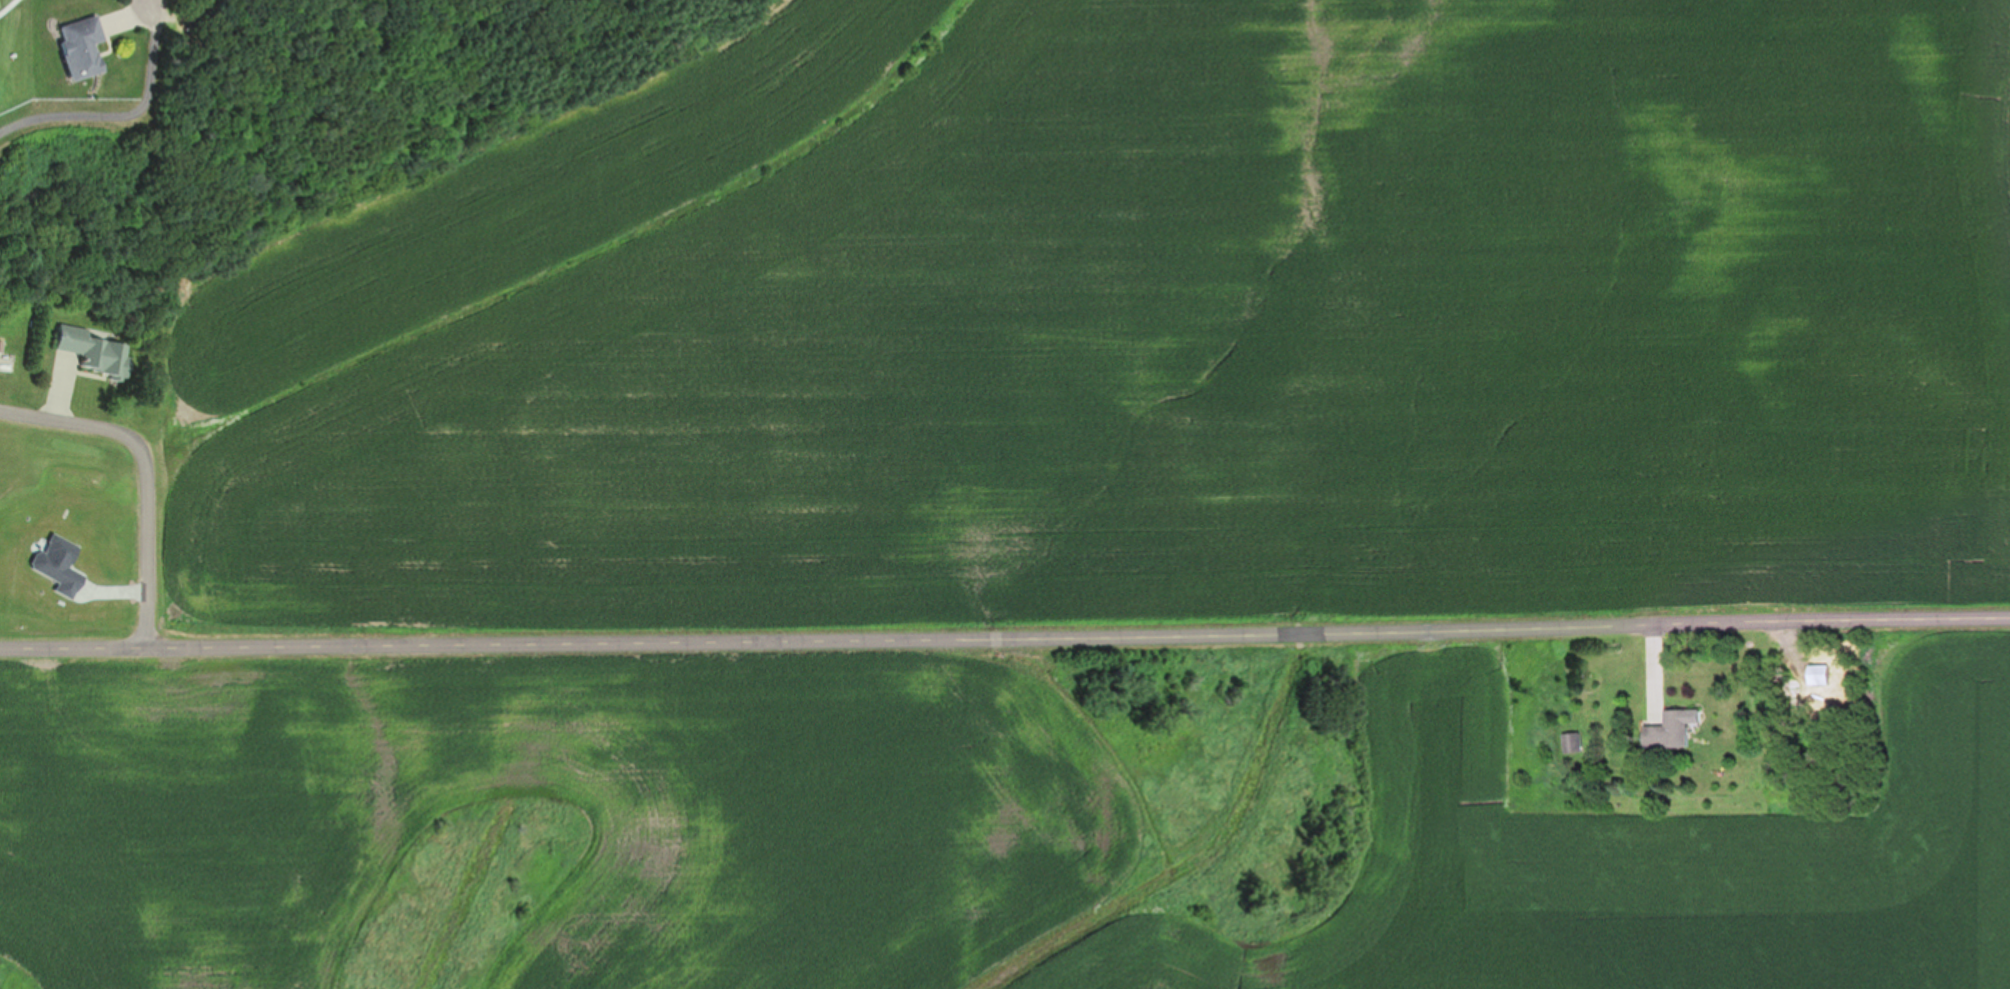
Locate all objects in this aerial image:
building: (85, 47)
park: (23, 97)
building: (98, 350)
road: (148, 471)
road: (1005, 639)
building: (1827, 673)
building: (1679, 730)
building: (1578, 741)

